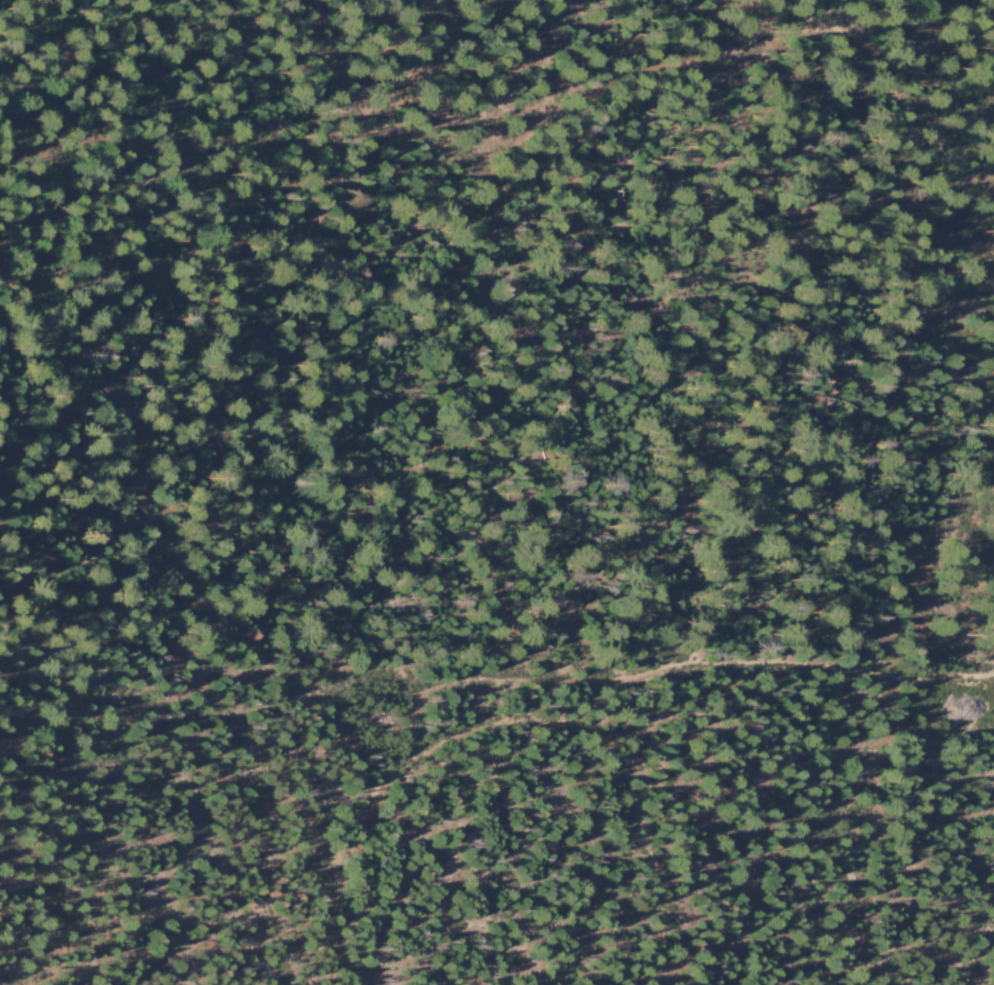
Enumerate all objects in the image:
road: (822, 668)

